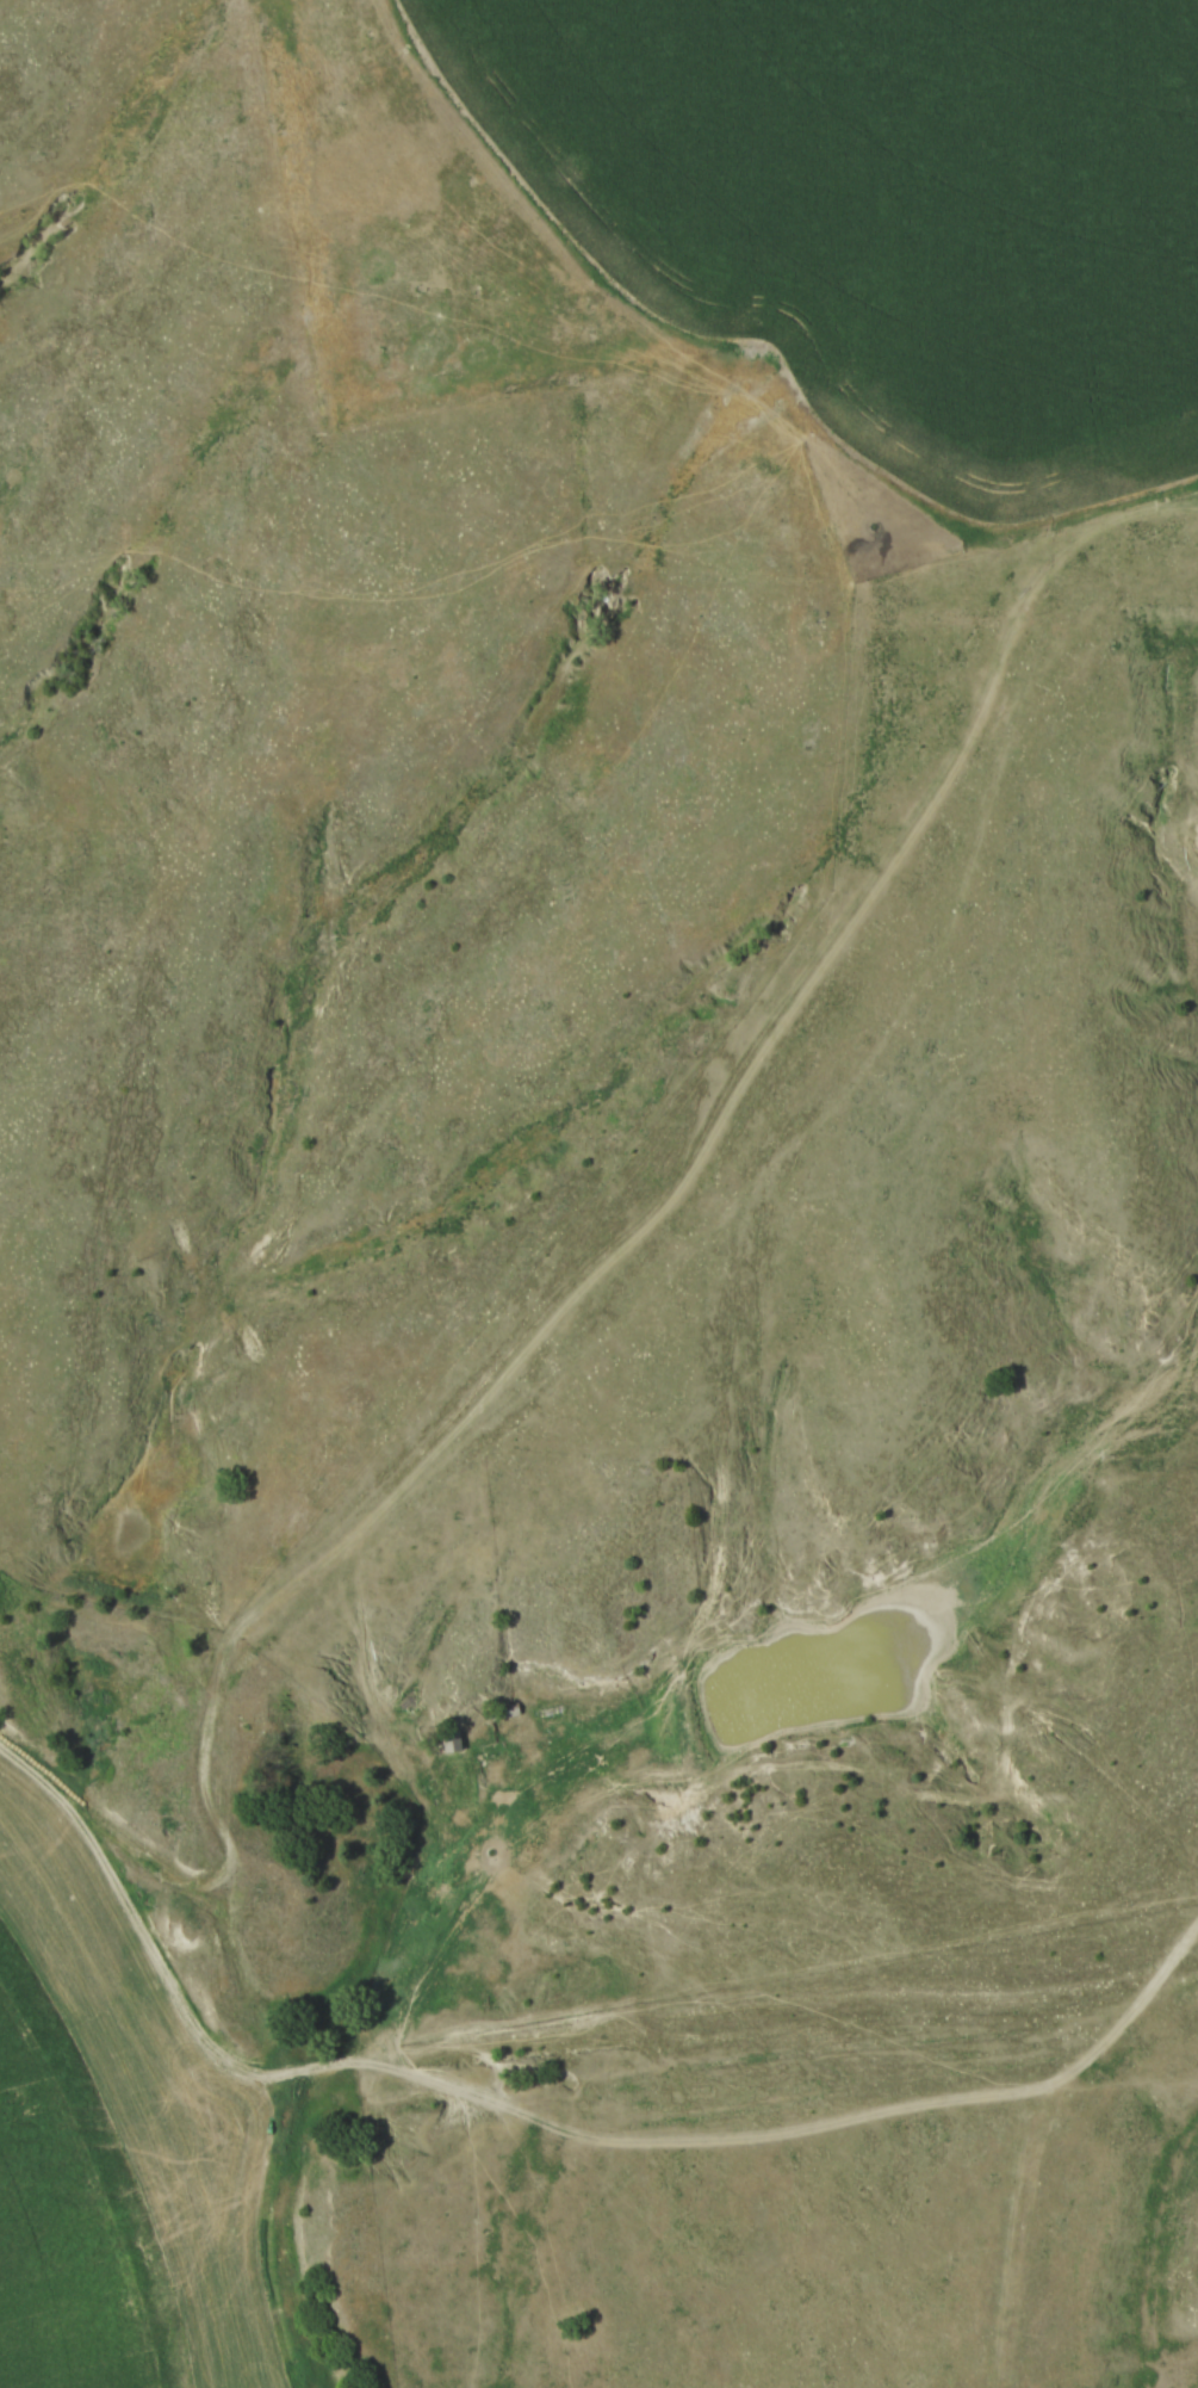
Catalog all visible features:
crop: (890, 205)
building: (1181, 490)
building: (418, 1718)
building: (448, 1740)
building: (435, 1789)
crop: (145, 2101)
crop: (64, 2223)

